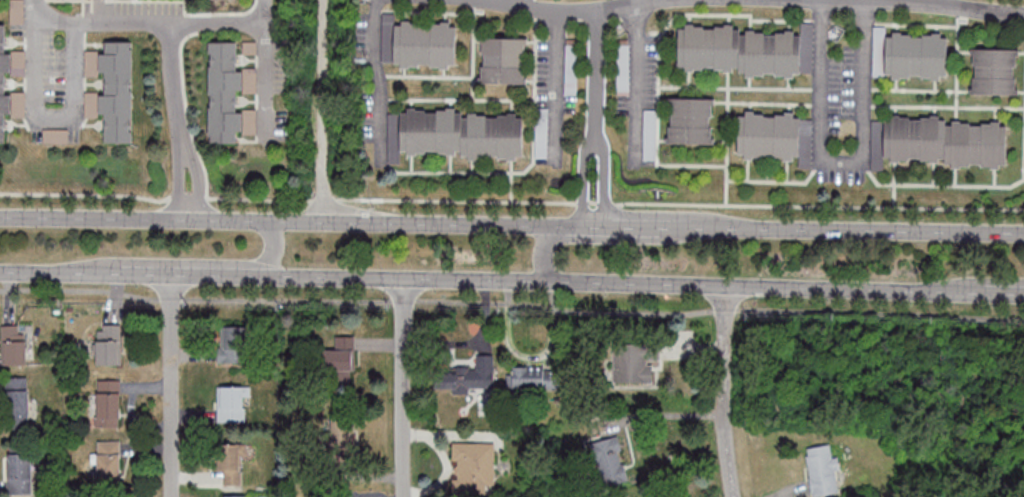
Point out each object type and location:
road: (641, 1)
road: (924, 6)
road: (575, 11)
building: (16, 12)
road: (139, 24)
building: (418, 43)
building: (746, 50)
building: (910, 55)
building: (503, 62)
road: (265, 70)
building: (994, 72)
road: (596, 75)
road: (175, 82)
road: (377, 82)
building: (2, 83)
road: (639, 84)
road: (558, 88)
building: (112, 90)
building: (229, 95)
park: (324, 99)
road: (321, 111)
road: (53, 119)
building: (691, 122)
building: (458, 134)
building: (774, 137)
building: (938, 142)
road: (841, 165)
road: (196, 178)
road: (176, 179)
road: (584, 181)
road: (604, 182)
road: (511, 201)
road: (362, 223)
road: (874, 231)
road: (616, 238)
road: (185, 264)
road: (276, 277)
road: (977, 284)
road: (741, 286)
road: (977, 291)
road: (511, 304)
building: (14, 344)
building: (108, 344)
building: (231, 345)
building: (340, 361)
building: (634, 362)
building: (468, 375)
building: (531, 378)
road: (169, 387)
road: (404, 388)
road: (723, 391)
building: (17, 401)
building: (108, 402)
building: (232, 403)
road: (663, 416)
building: (342, 437)
building: (108, 462)
building: (609, 463)
building: (231, 464)
building: (472, 470)
building: (823, 471)
building: (20, 473)
building: (233, 496)
building: (341, 496)

